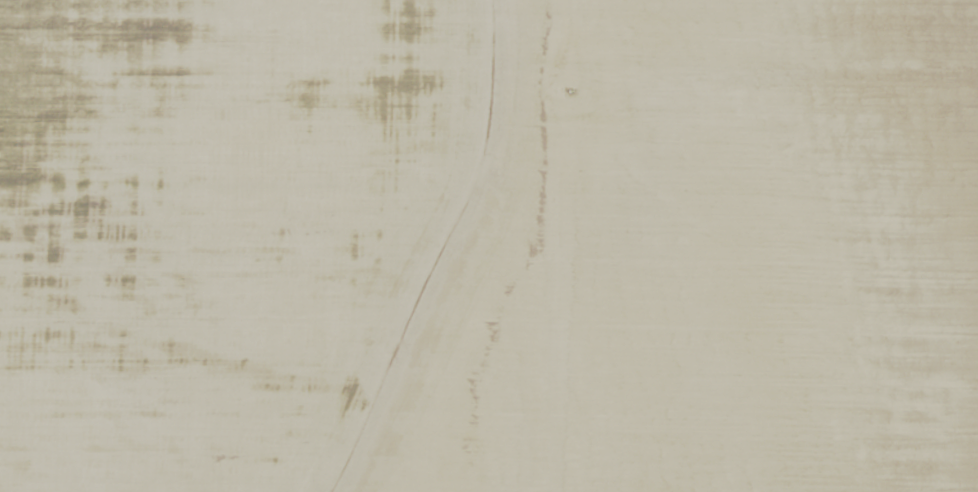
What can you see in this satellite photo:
road: (767, 64)
road: (554, 245)

